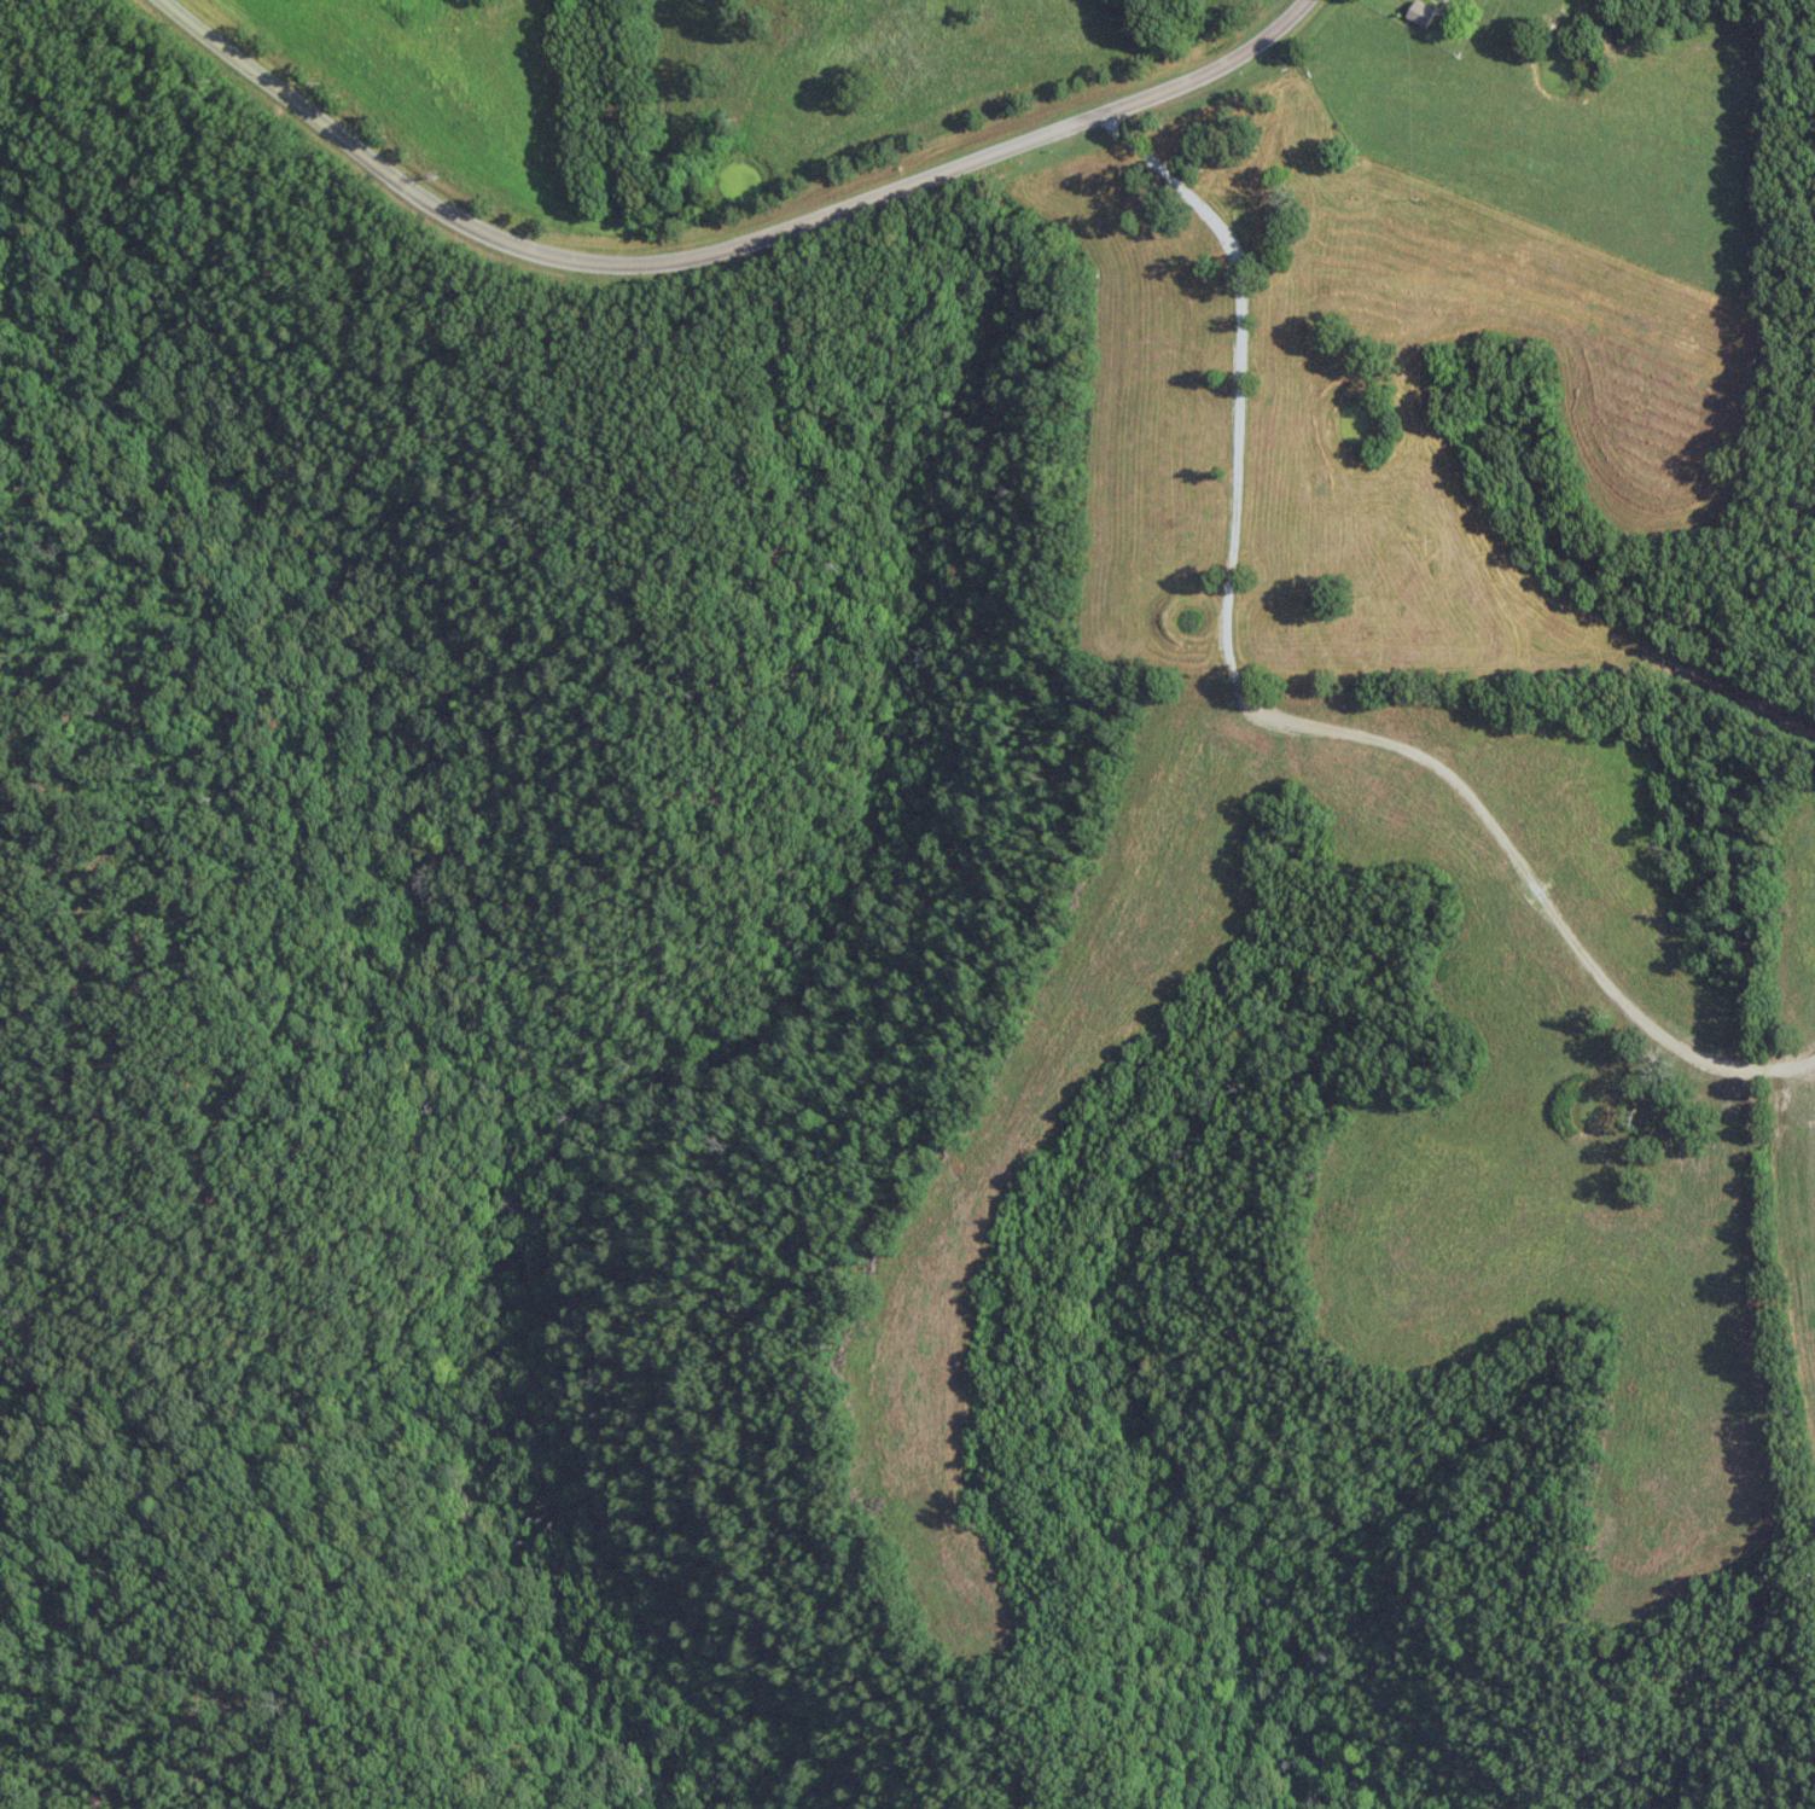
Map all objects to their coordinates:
building: (1414, 11)
road: (726, 246)

